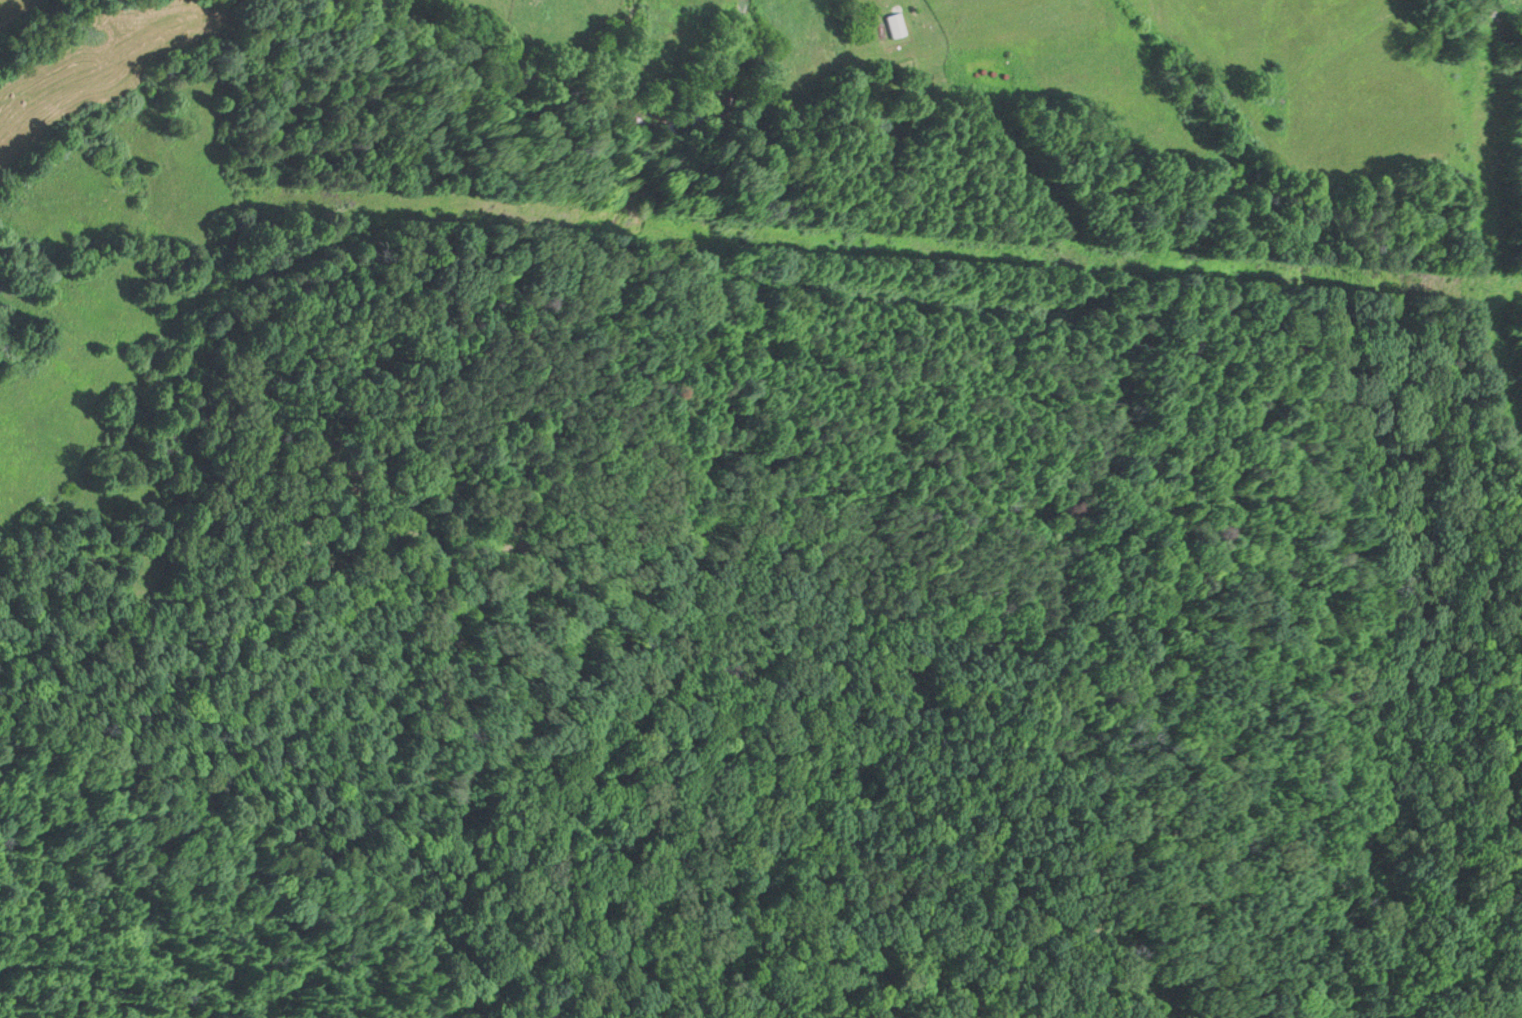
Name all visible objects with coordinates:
building: (894, 24)

